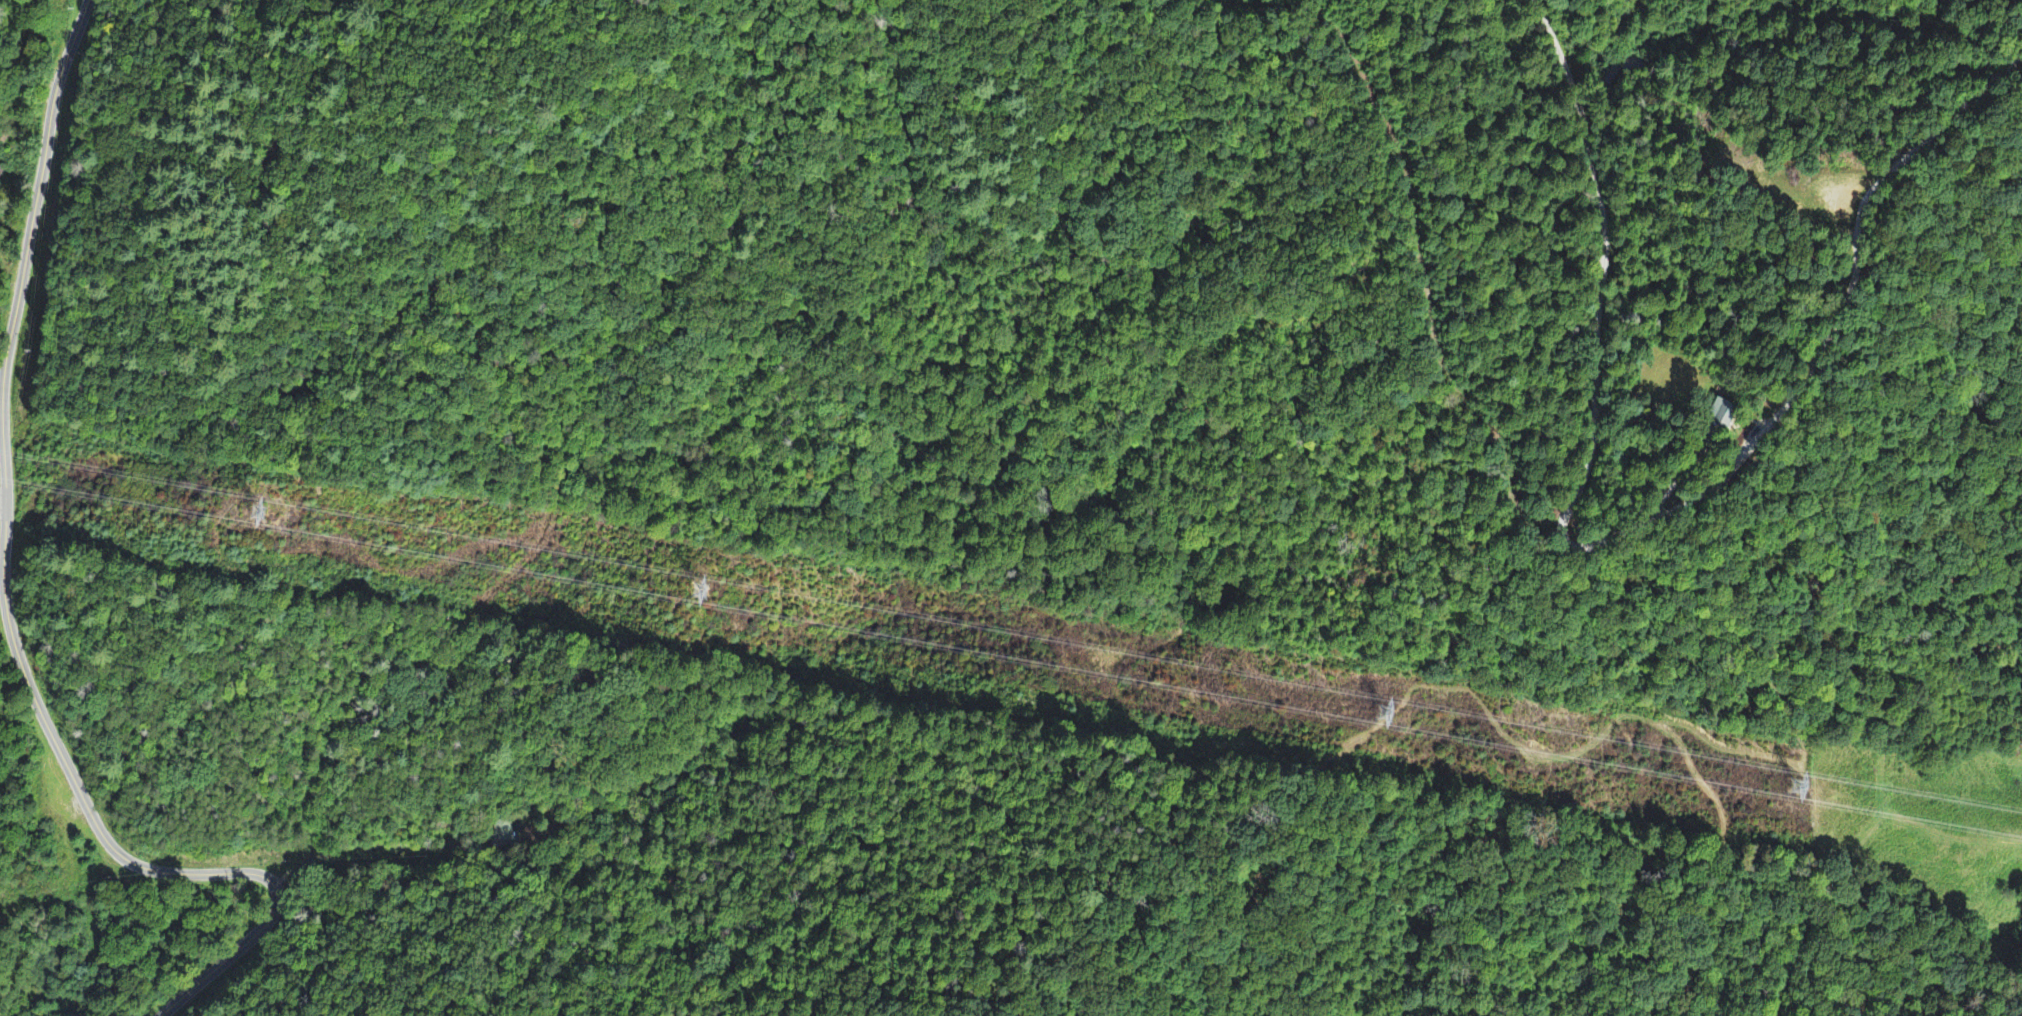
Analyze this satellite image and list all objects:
building: (1, 173)
road: (32, 198)
road: (1599, 296)
power tower: (223, 512)
power tower: (660, 591)
power tower: (1376, 720)
power tower: (1779, 793)
road: (117, 847)

